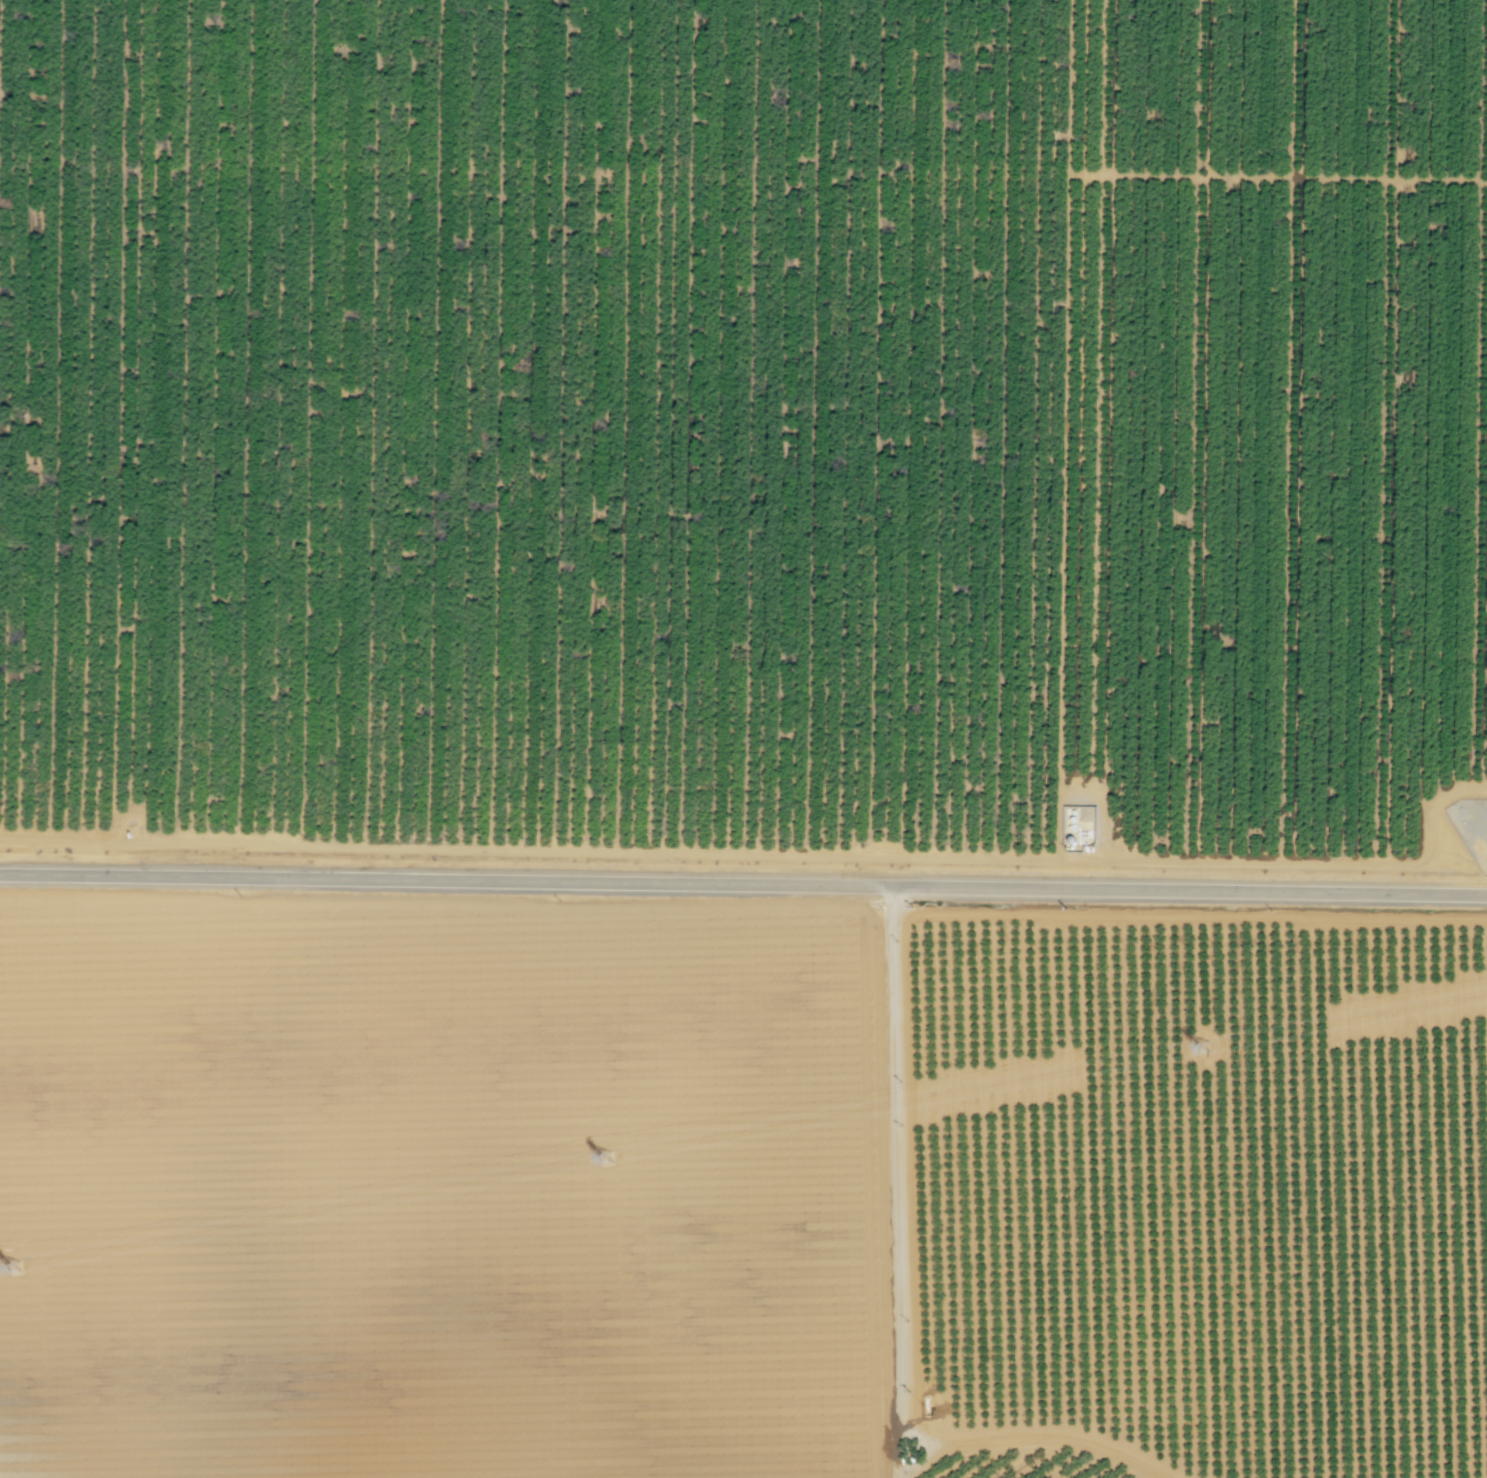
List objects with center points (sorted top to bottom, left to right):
road: (1398, 89)
road: (1283, 177)
road: (1205, 431)
road: (1296, 431)
road: (1392, 522)
road: (1077, 527)
road: (1484, 560)
road: (770, 855)
road: (743, 883)
road: (1188, 917)
power tower: (1198, 1051)
power tower: (606, 1165)
road: (894, 1179)
road: (447, 1245)
power tower: (19, 1269)
road: (1037, 1437)

